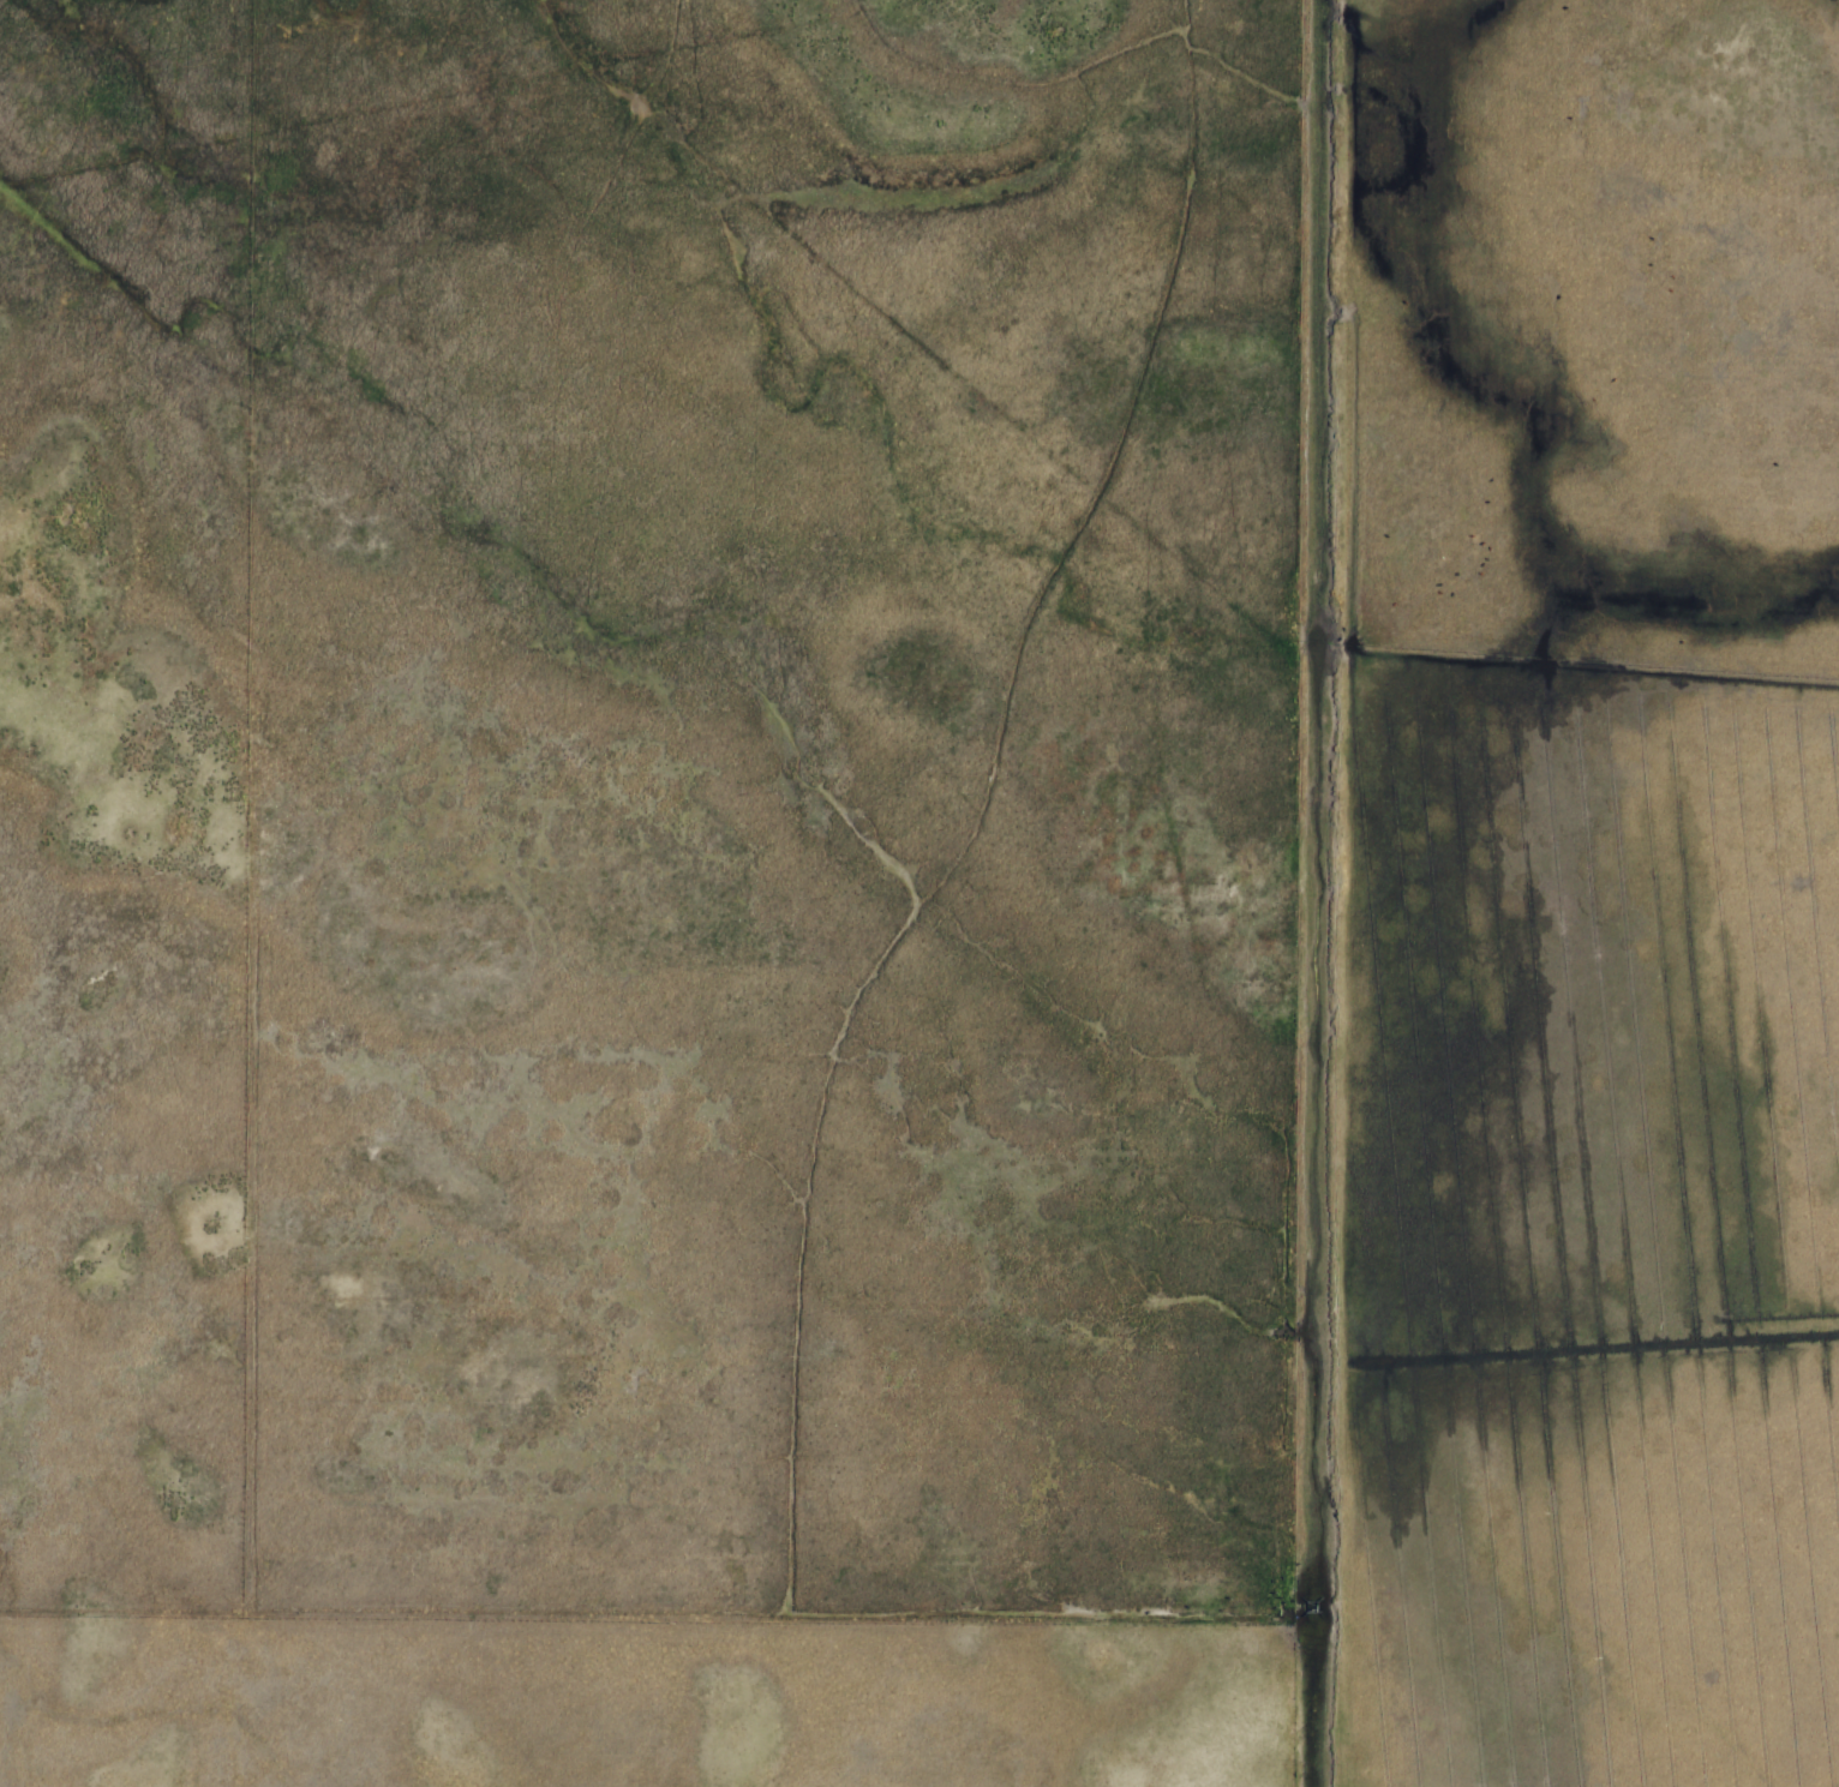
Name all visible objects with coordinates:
crop: (768, 811)
crop: (1552, 1236)

